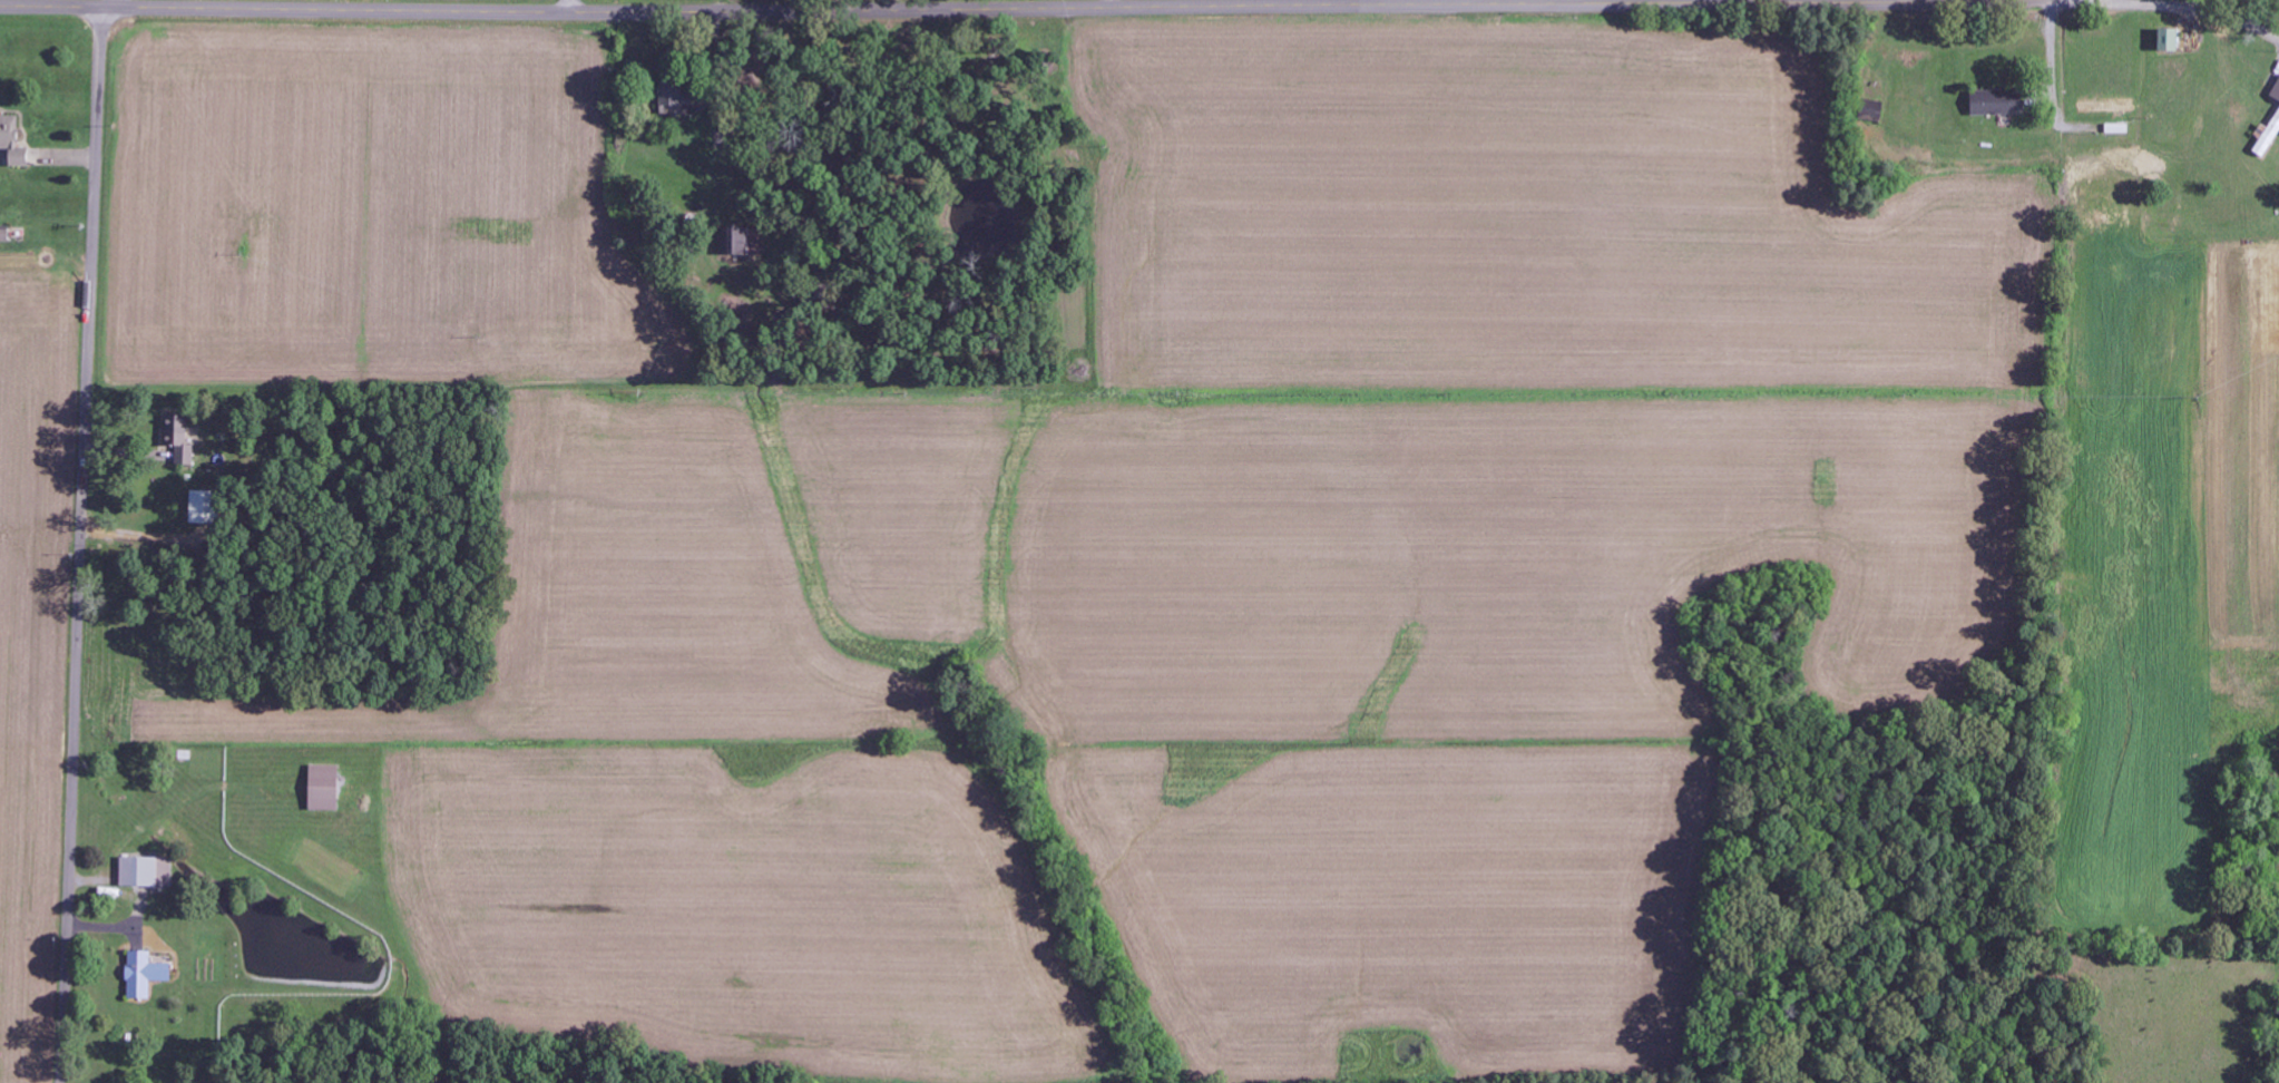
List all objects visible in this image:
road: (571, 6)
road: (878, 10)
building: (2171, 40)
building: (2276, 94)
building: (676, 100)
building: (2001, 103)
building: (2107, 106)
building: (1875, 110)
building: (2269, 136)
building: (13, 140)
building: (6, 236)
building: (743, 242)
building: (183, 439)
road: (79, 544)
building: (325, 788)
building: (147, 872)
building: (146, 974)

